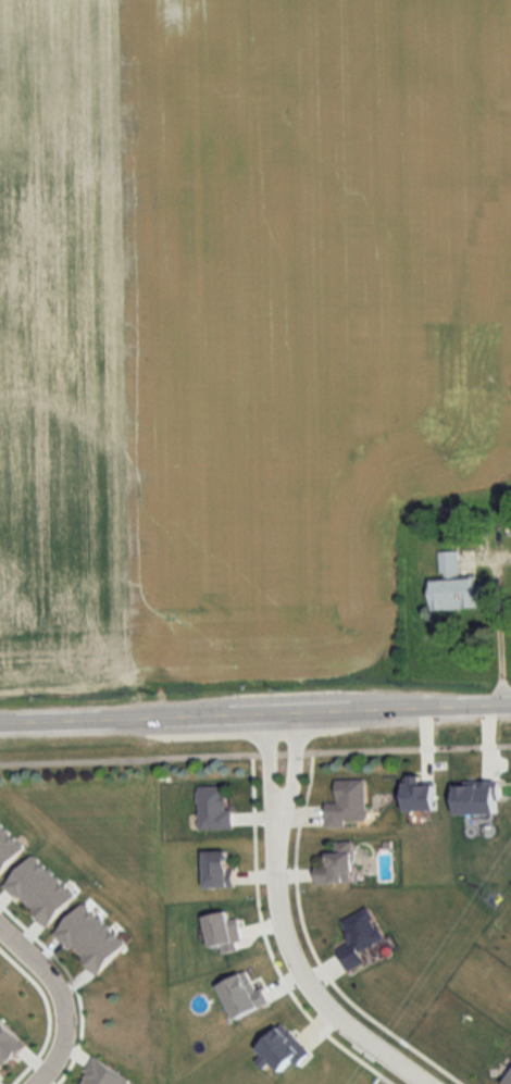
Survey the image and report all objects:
crop: (239, 323)
building: (452, 586)
road: (494, 622)
road: (255, 720)
road: (270, 773)
road: (292, 773)
building: (348, 805)
building: (213, 809)
building: (337, 865)
building: (216, 869)
building: (360, 937)
road: (303, 980)
road: (60, 1000)

